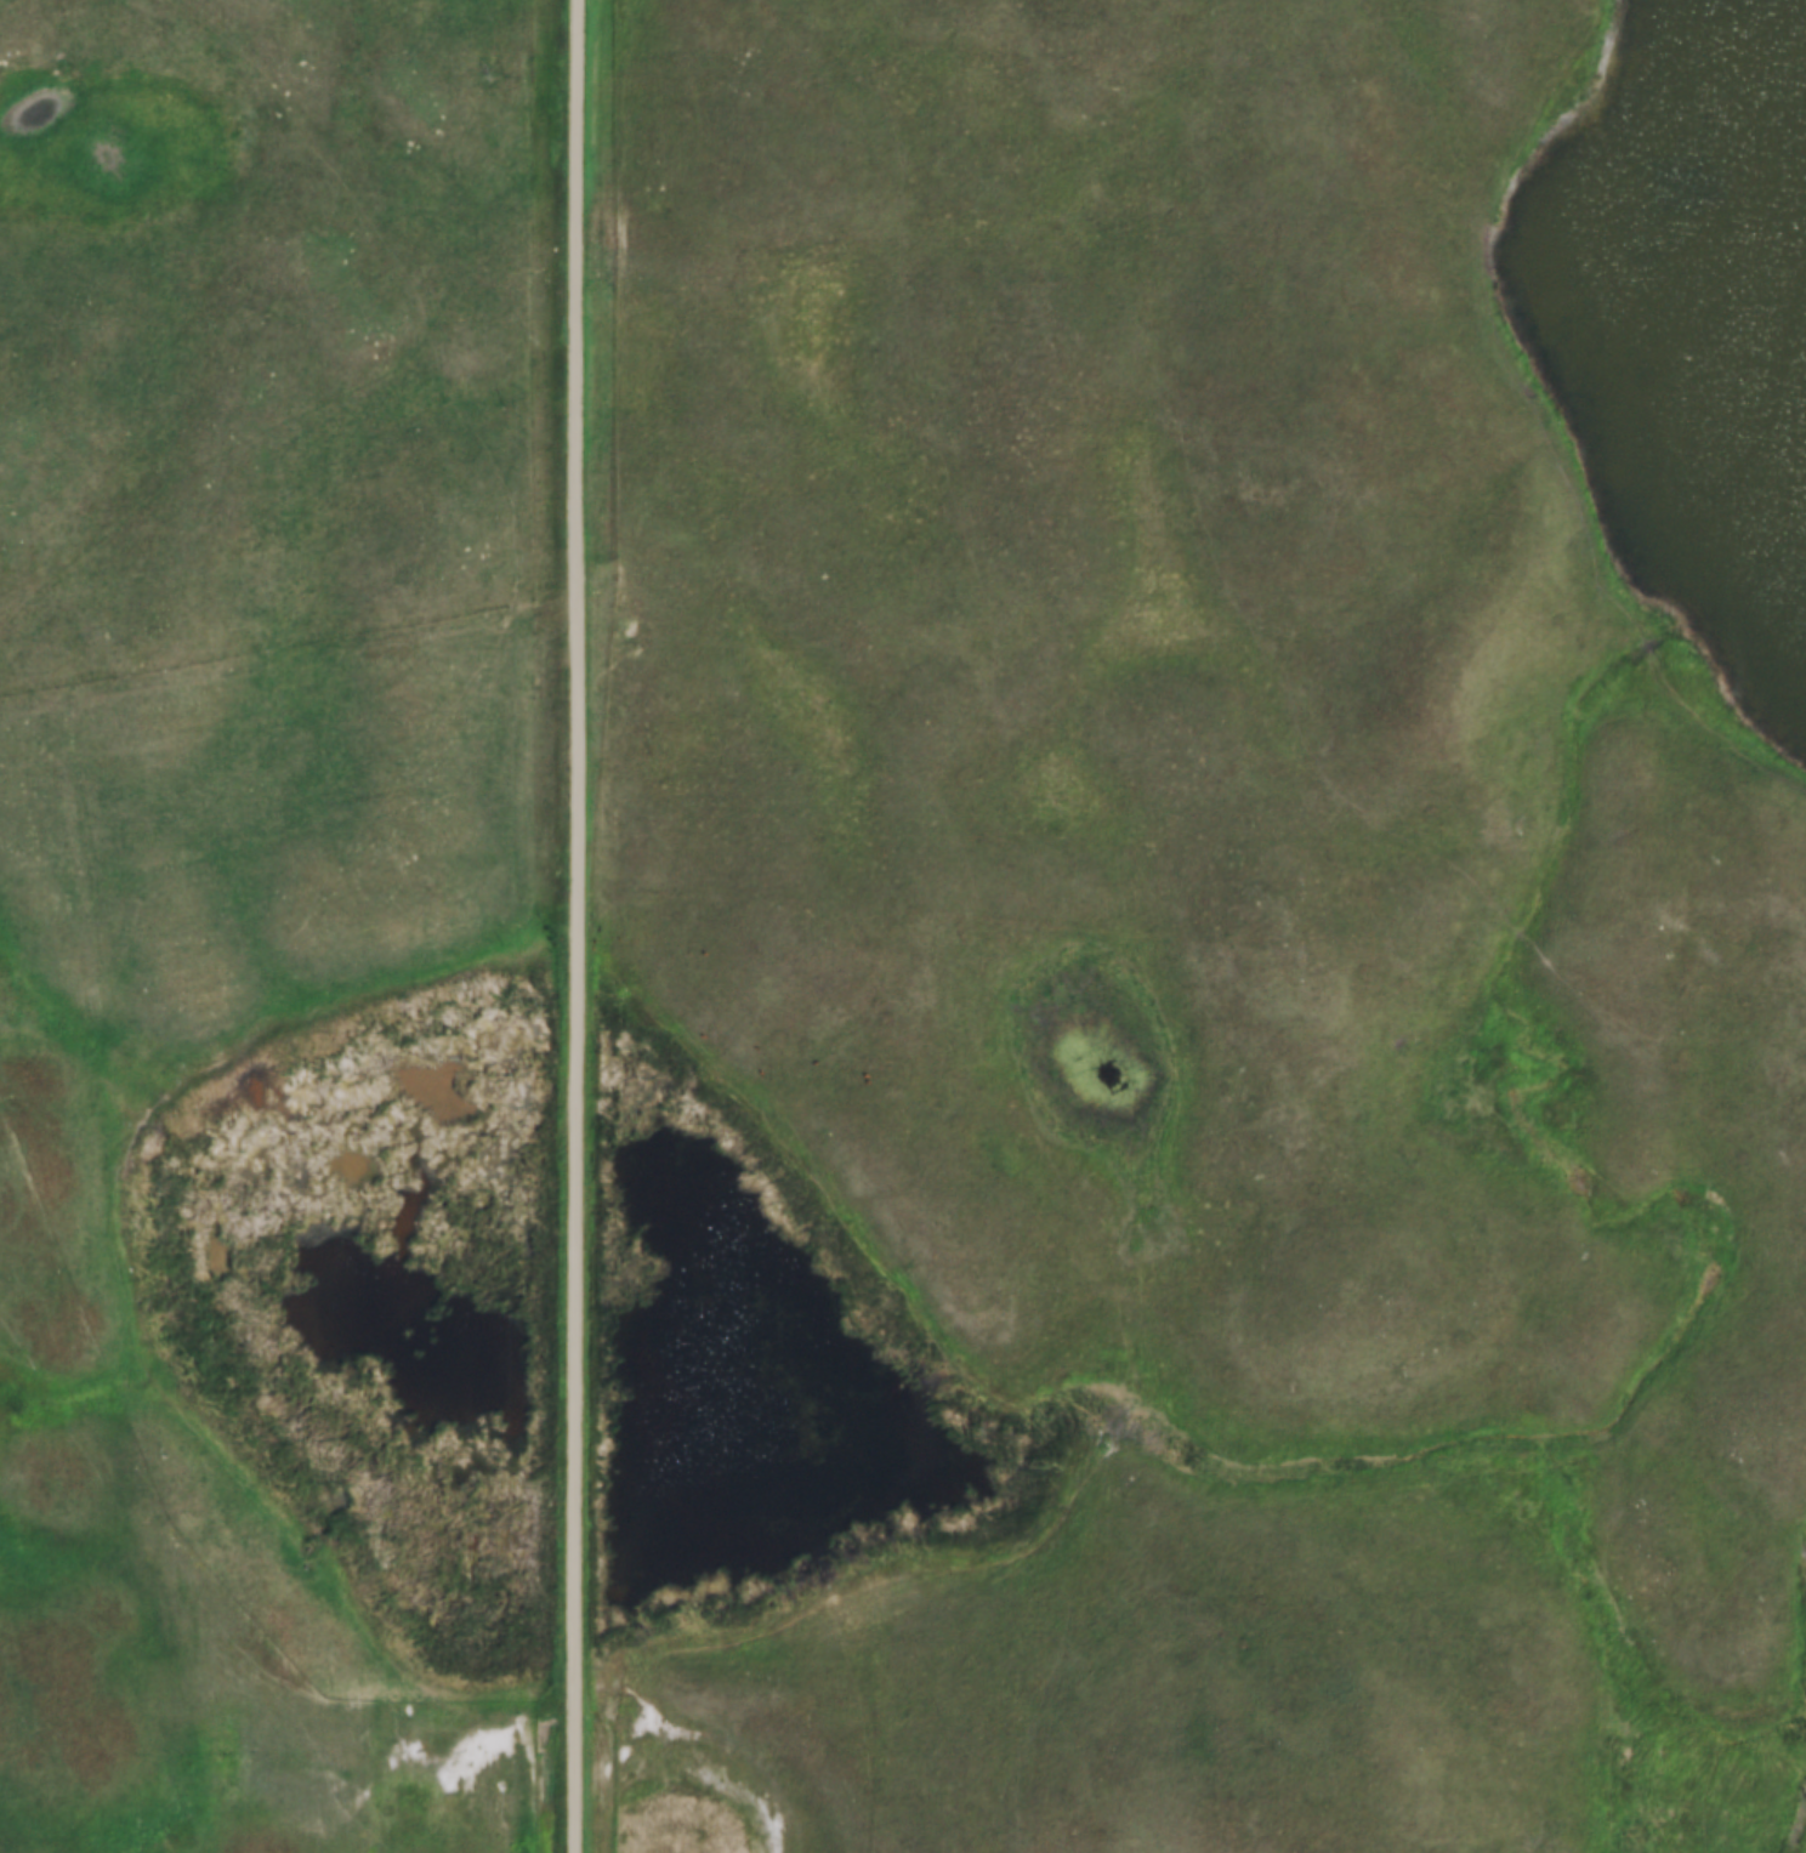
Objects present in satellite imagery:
road: (570, 926)

